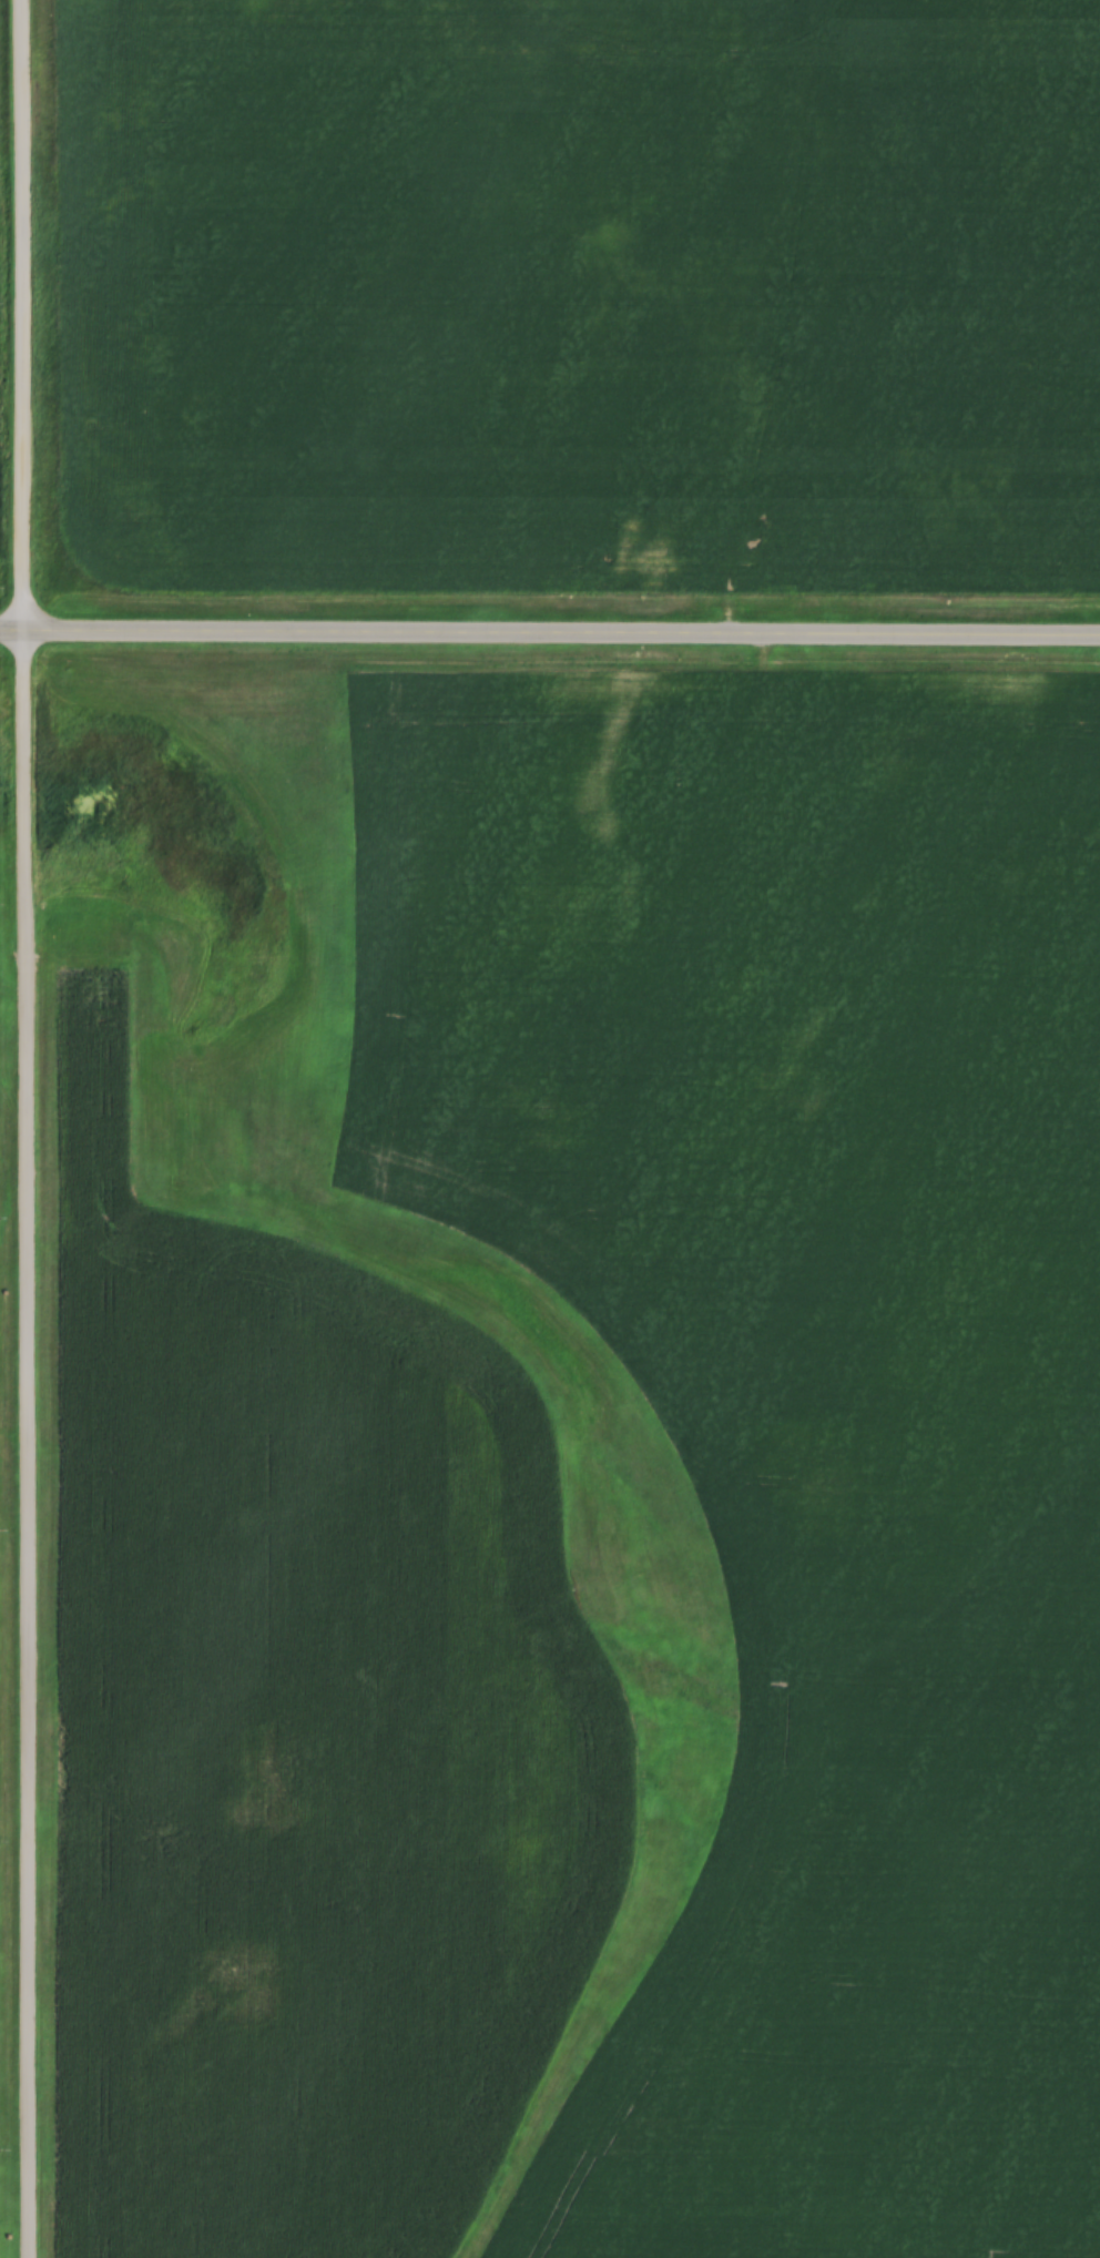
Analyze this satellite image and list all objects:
road: (549, 629)
road: (28, 1128)

